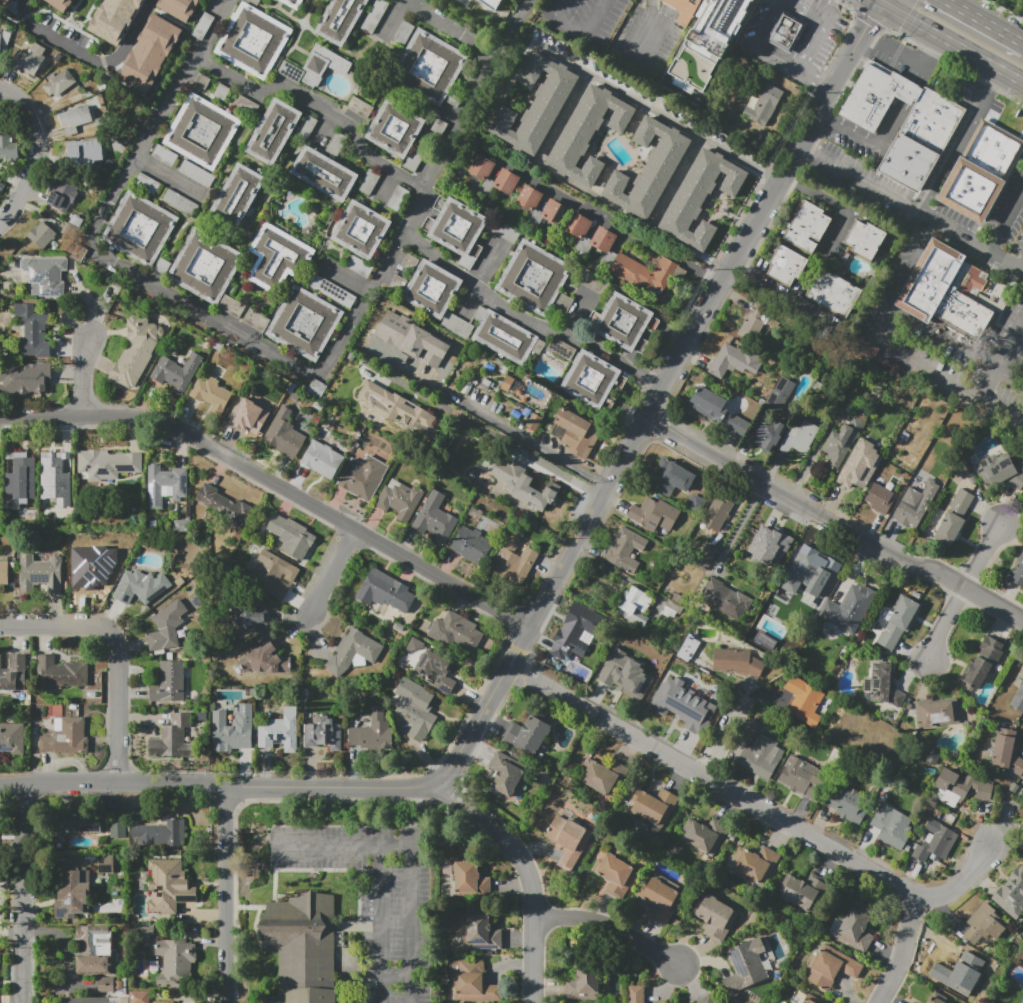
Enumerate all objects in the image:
road: (23, 0)
building: (253, 2)
road: (788, 2)
road: (876, 2)
road: (881, 2)
building: (293, 3)
building: (4, 4)
building: (489, 4)
building: (61, 5)
building: (180, 8)
road: (554, 8)
building: (684, 10)
road: (823, 10)
road: (803, 12)
building: (736, 13)
building: (373, 15)
road: (870, 18)
building: (340, 19)
building: (113, 20)
road: (982, 22)
traffic signals: (867, 25)
road: (652, 29)
road: (134, 30)
road: (449, 30)
road: (514, 30)
building: (787, 31)
building: (0, 33)
building: (403, 34)
road: (585, 36)
road: (64, 40)
building: (254, 40)
building: (0, 43)
road: (951, 43)
road: (756, 44)
road: (815, 46)
building: (150, 54)
road: (906, 58)
road: (846, 61)
building: (26, 62)
building: (323, 65)
building: (429, 66)
building: (290, 71)
road: (994, 78)
road: (816, 79)
building: (58, 82)
road: (985, 94)
road: (318, 102)
building: (244, 104)
building: (763, 104)
building: (536, 105)
building: (359, 107)
road: (568, 112)
building: (76, 116)
road: (664, 116)
road: (466, 117)
building: (904, 123)
building: (395, 128)
building: (201, 131)
building: (271, 131)
building: (588, 134)
road: (862, 140)
road: (806, 147)
building: (8, 148)
building: (83, 150)
road: (37, 154)
building: (164, 155)
road: (954, 159)
building: (649, 168)
building: (982, 172)
building: (324, 173)
building: (197, 174)
building: (481, 174)
road: (782, 175)
road: (169, 176)
road: (680, 177)
building: (369, 181)
building: (146, 183)
building: (238, 197)
building: (700, 198)
building: (398, 199)
building: (61, 200)
building: (180, 202)
building: (528, 204)
road: (917, 211)
road: (1006, 222)
road: (607, 223)
road: (838, 223)
building: (456, 227)
building: (808, 227)
building: (140, 228)
building: (361, 229)
building: (42, 234)
building: (592, 237)
building: (866, 239)
building: (277, 258)
building: (409, 262)
building: (787, 265)
building: (163, 266)
building: (205, 266)
building: (360, 266)
road: (1022, 268)
building: (643, 272)
building: (32, 275)
road: (479, 276)
road: (347, 277)
building: (533, 277)
building: (398, 283)
building: (431, 289)
building: (946, 290)
building: (332, 291)
road: (786, 292)
building: (834, 293)
road: (180, 298)
building: (231, 306)
road: (577, 312)
building: (255, 320)
road: (524, 320)
building: (624, 322)
building: (305, 323)
building: (752, 323)
building: (457, 326)
building: (32, 331)
building: (506, 338)
building: (412, 339)
road: (686, 339)
road: (891, 344)
building: (560, 348)
building: (138, 351)
road: (1002, 358)
building: (728, 361)
building: (176, 372)
road: (82, 376)
building: (24, 378)
building: (593, 380)
building: (510, 385)
building: (317, 388)
building: (780, 394)
building: (211, 395)
building: (709, 404)
building: (318, 405)
building: (398, 409)
road: (474, 409)
building: (250, 415)
building: (738, 425)
building: (577, 431)
building: (767, 434)
building: (798, 437)
building: (284, 438)
building: (842, 442)
building: (322, 459)
building: (107, 464)
building: (860, 465)
building: (1000, 471)
building: (57, 477)
building: (363, 477)
building: (672, 477)
building: (19, 483)
building: (165, 485)
building: (525, 485)
road: (273, 486)
building: (399, 499)
building: (879, 499)
building: (696, 502)
building: (915, 505)
building: (224, 506)
road: (802, 506)
building: (717, 513)
building: (654, 514)
building: (435, 518)
building: (954, 518)
road: (585, 522)
road: (739, 528)
building: (291, 536)
road: (359, 541)
building: (471, 545)
building: (624, 549)
building: (762, 551)
road: (983, 554)
building: (705, 556)
building: (515, 559)
building: (90, 563)
road: (334, 572)
building: (4, 573)
building: (39, 573)
building: (270, 573)
building: (1017, 573)
building: (814, 574)
building: (141, 587)
building: (384, 591)
building: (725, 599)
road: (994, 604)
building: (634, 605)
building: (849, 608)
building: (247, 617)
building: (899, 619)
building: (167, 626)
road: (944, 627)
building: (577, 628)
building: (454, 631)
building: (764, 640)
building: (687, 648)
road: (118, 650)
building: (354, 652)
building: (265, 659)
building: (736, 661)
building: (983, 661)
building: (432, 664)
building: (60, 673)
building: (14, 674)
building: (623, 674)
building: (652, 676)
building: (169, 683)
building: (882, 684)
building: (687, 691)
building: (1018, 699)
building: (801, 700)
building: (413, 705)
building: (937, 712)
building: (232, 729)
building: (280, 731)
building: (373, 731)
building: (323, 733)
road: (725, 734)
building: (530, 736)
building: (12, 737)
building: (66, 737)
building: (173, 738)
building: (188, 738)
building: (1007, 749)
building: (760, 757)
building: (604, 774)
building: (509, 776)
building: (802, 777)
road: (712, 780)
road: (309, 787)
building: (960, 788)
building: (847, 804)
building: (653, 806)
road: (239, 808)
road: (403, 816)
road: (415, 816)
building: (79, 824)
building: (892, 826)
building: (116, 827)
building: (156, 831)
building: (704, 835)
road: (503, 838)
building: (569, 839)
building: (935, 841)
road: (409, 855)
building: (755, 862)
road: (315, 870)
building: (615, 875)
road: (964, 880)
building: (470, 882)
building: (169, 885)
building: (803, 891)
road: (25, 893)
building: (73, 894)
building: (1011, 894)
road: (227, 895)
building: (659, 897)
building: (715, 917)
road: (357, 923)
road: (379, 924)
building: (984, 924)
road: (351, 925)
road: (608, 926)
building: (855, 926)
building: (483, 933)
building: (302, 947)
building: (95, 949)
road: (902, 952)
road: (531, 960)
building: (174, 961)
building: (747, 966)
building: (832, 966)
building: (961, 976)
building: (473, 983)
building: (106, 984)
building: (118, 985)
building: (583, 985)
building: (636, 994)
building: (139, 997)
building: (804, 997)
building: (118, 999)
building: (709, 999)
building: (934, 1000)
building: (1022, 1001)
building: (164, 1002)
building: (912, 1002)

